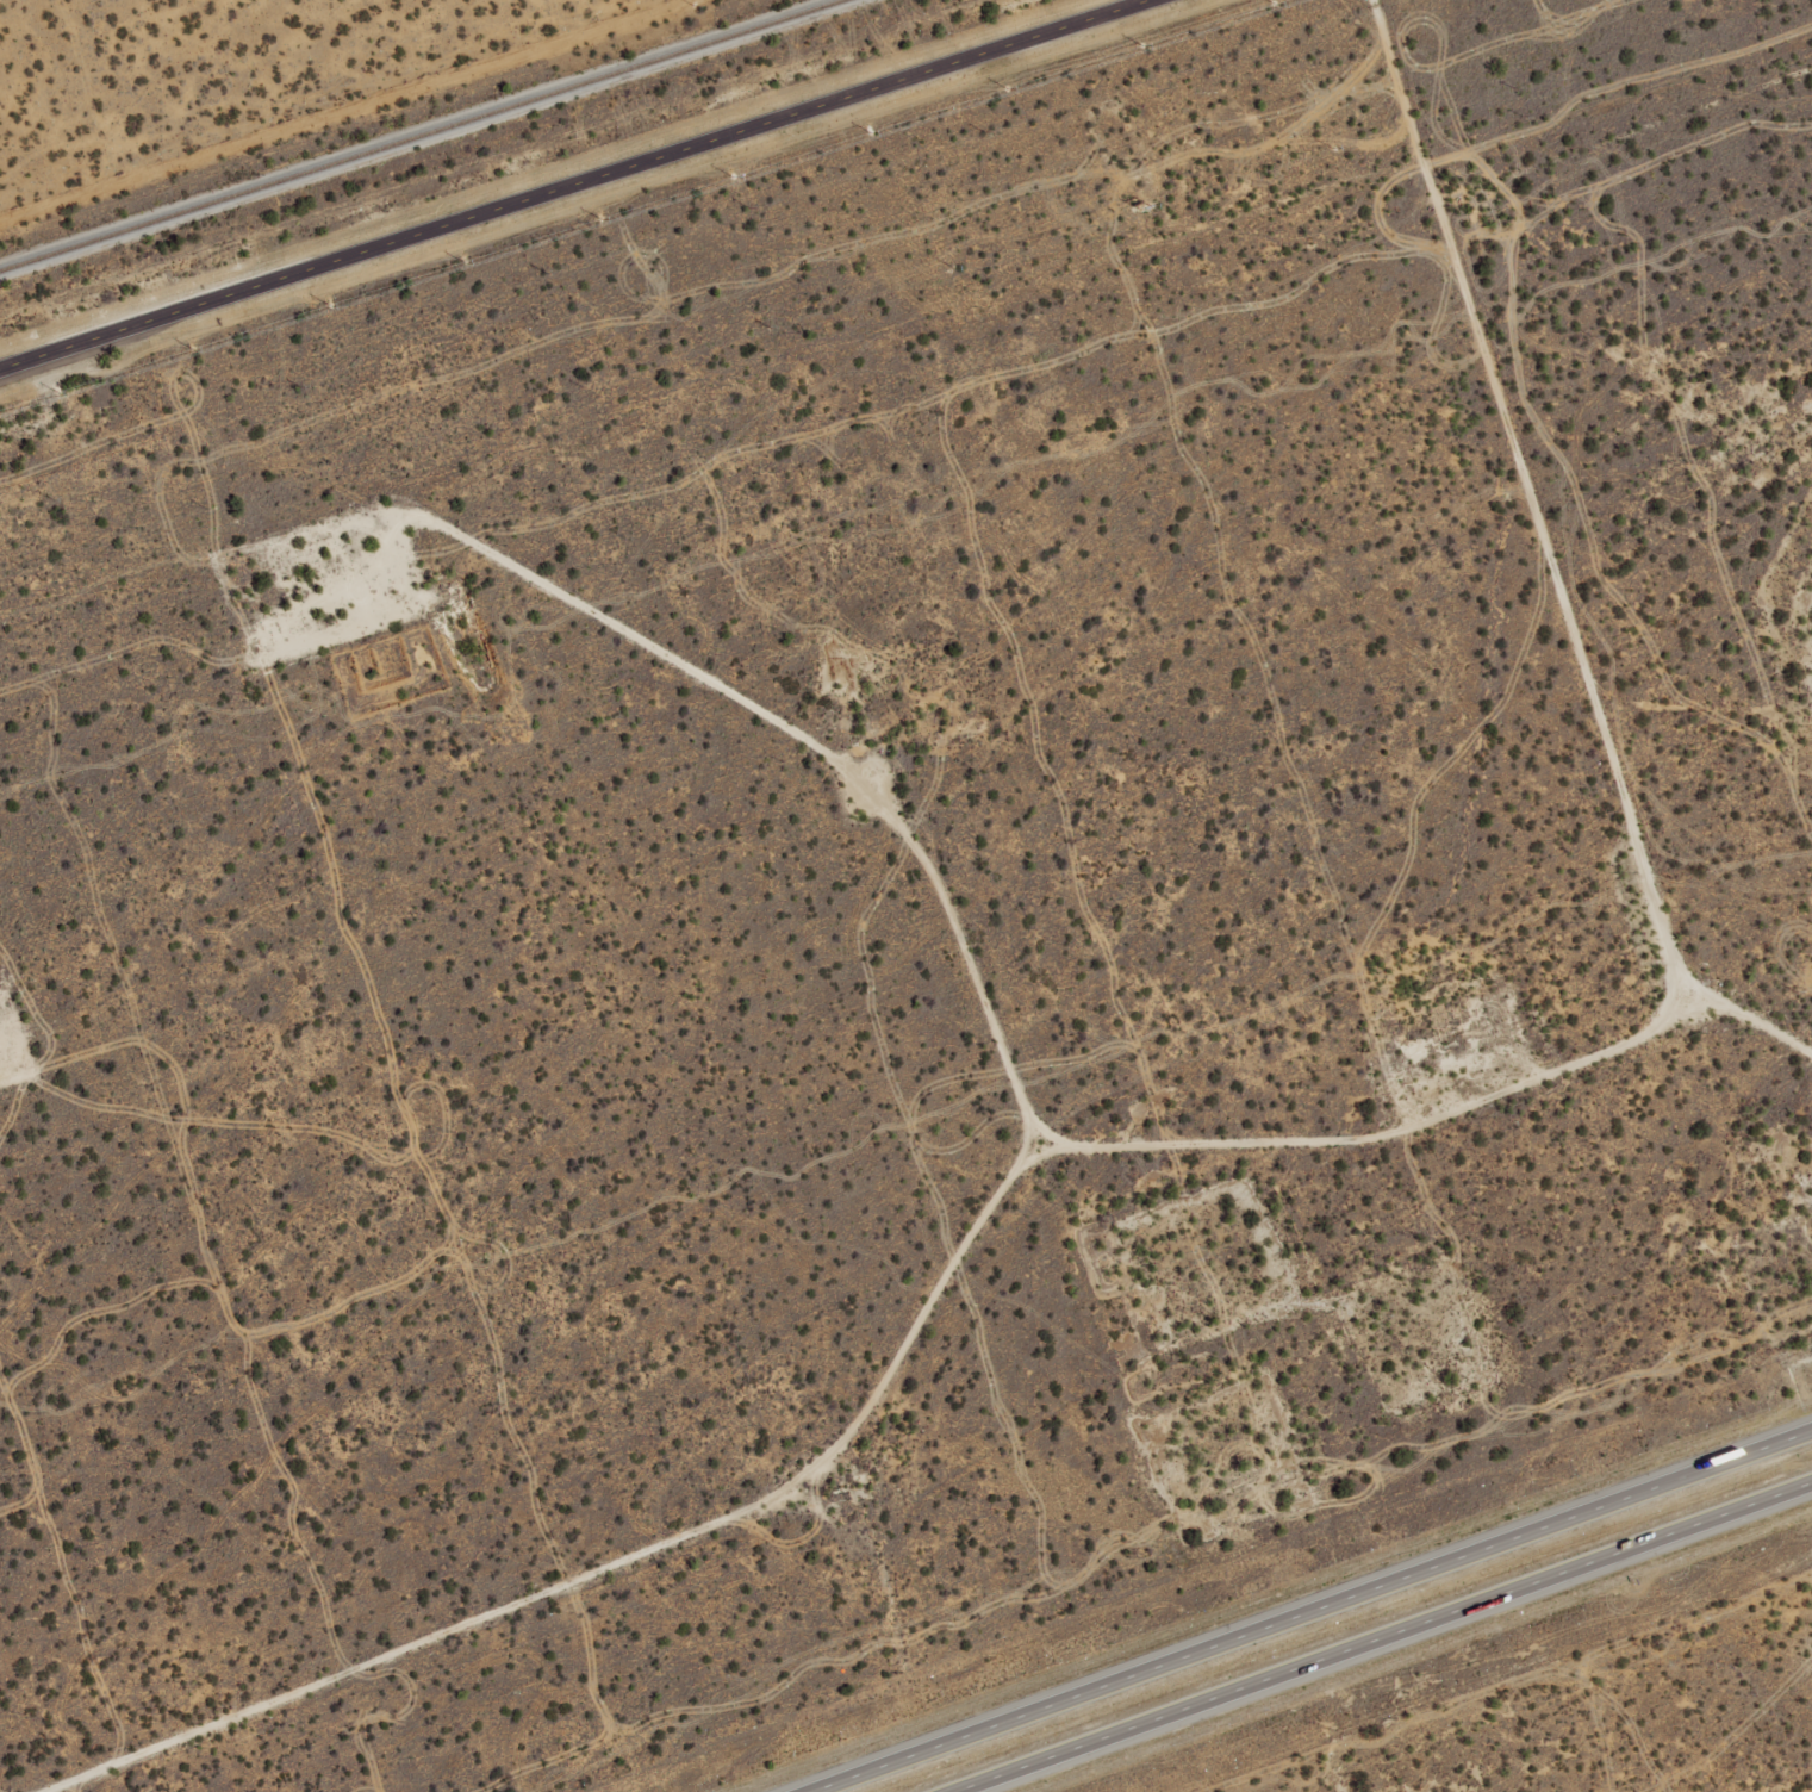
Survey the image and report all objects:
railway: (421, 135)
road: (1606, 169)
road: (572, 183)
road: (1439, 453)
road: (1109, 668)
road: (1176, 1028)
road: (1308, 1611)
road: (1380, 1636)

